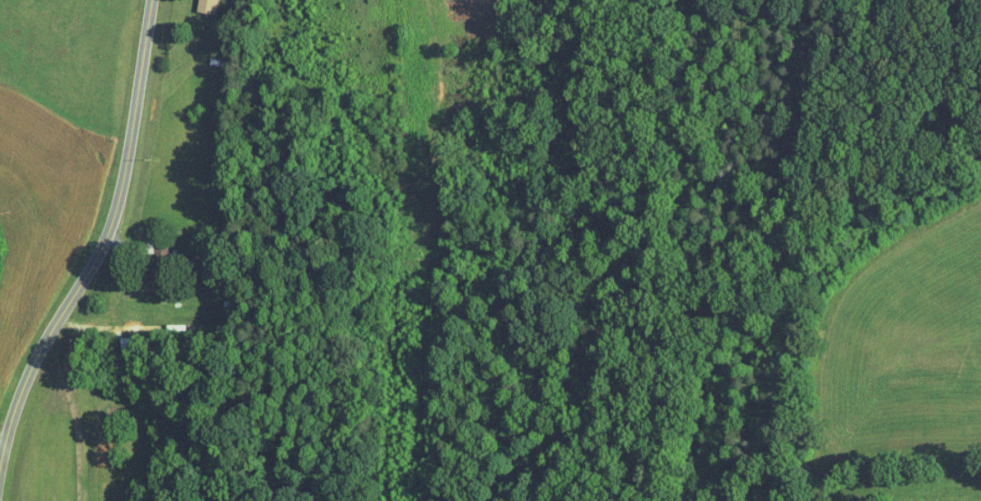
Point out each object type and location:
road: (428, 1)
building: (207, 6)
road: (121, 224)
building: (156, 272)

